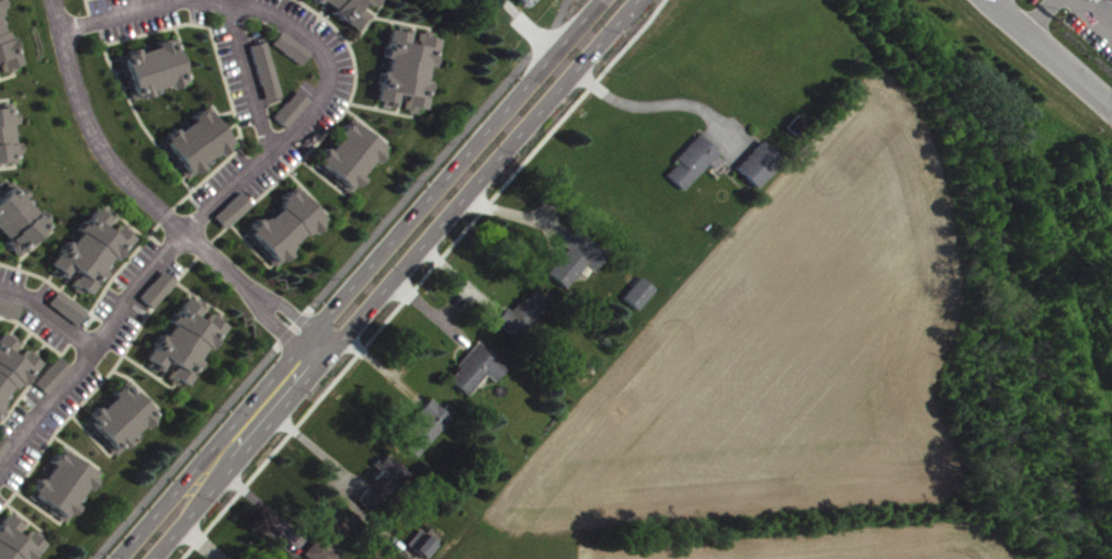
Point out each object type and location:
road: (198, 0)
building: (241, 1)
building: (522, 1)
building: (370, 2)
building: (344, 11)
building: (285, 45)
building: (5, 46)
road: (1049, 54)
building: (402, 64)
building: (150, 65)
building: (261, 68)
road: (252, 75)
building: (286, 105)
road: (657, 111)
building: (295, 114)
building: (4, 134)
building: (194, 139)
building: (344, 152)
road: (438, 157)
building: (688, 159)
building: (752, 160)
road: (152, 201)
road: (513, 213)
building: (236, 215)
building: (18, 220)
building: (281, 224)
building: (89, 244)
building: (570, 254)
road: (160, 255)
road: (356, 278)
road: (396, 279)
road: (420, 279)
road: (463, 283)
building: (634, 289)
building: (161, 294)
building: (642, 298)
building: (64, 304)
building: (11, 311)
building: (517, 311)
road: (430, 312)
road: (49, 313)
road: (291, 327)
building: (182, 339)
road: (370, 360)
building: (12, 365)
building: (473, 365)
building: (48, 372)
building: (57, 380)
building: (117, 415)
building: (423, 422)
road: (315, 449)
road: (185, 450)
building: (4, 453)
building: (376, 479)
building: (60, 480)
building: (385, 487)
building: (324, 534)
building: (418, 541)
building: (19, 543)

